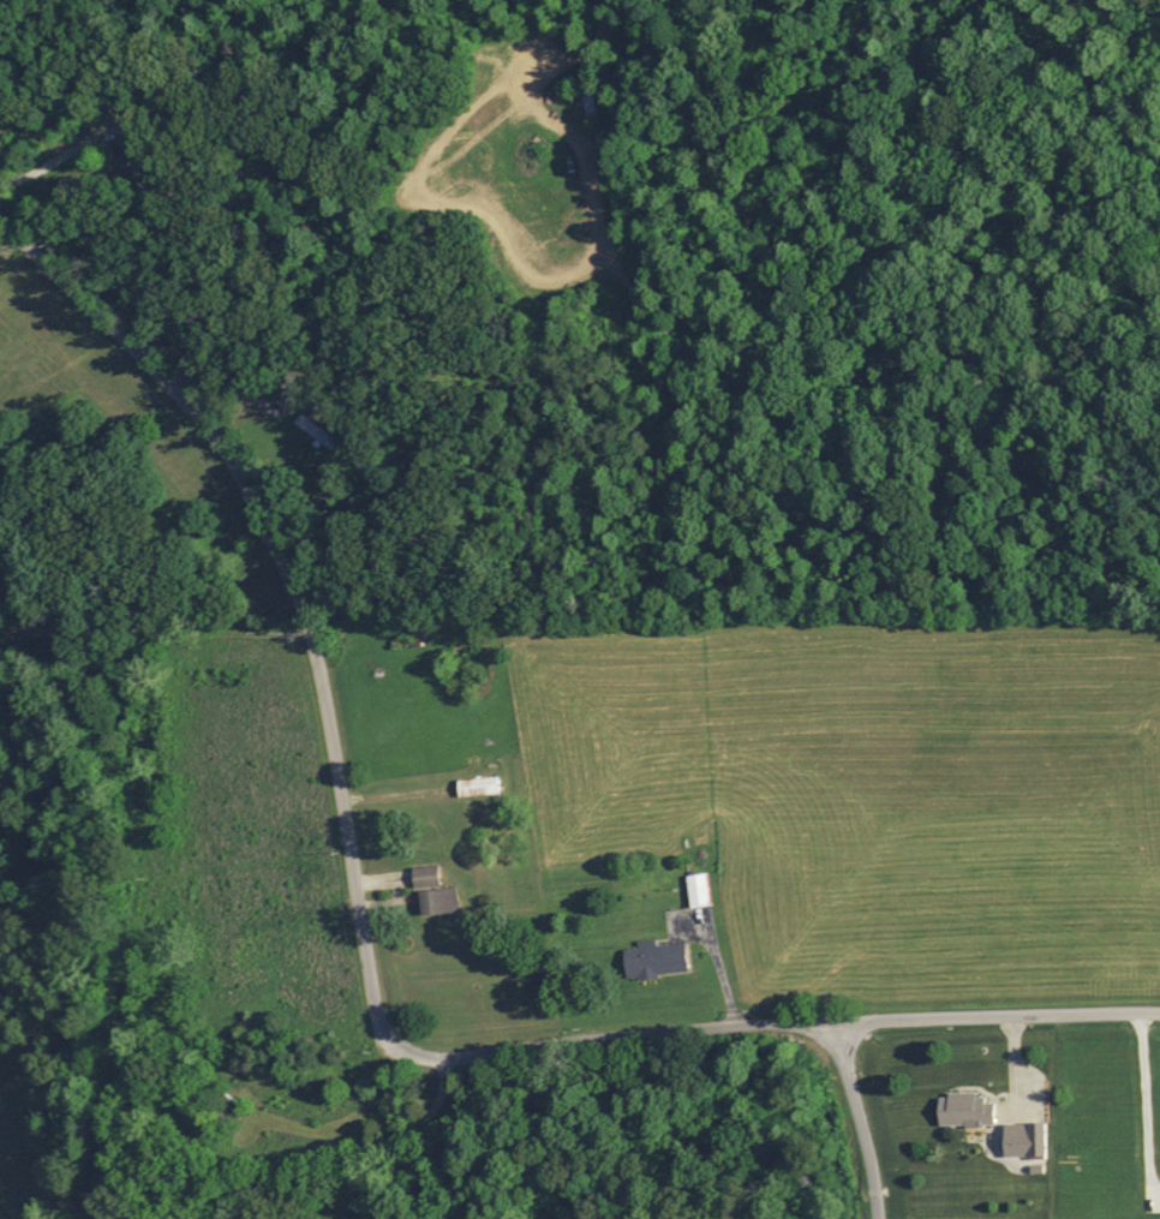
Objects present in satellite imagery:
building: (587, 94)
building: (311, 430)
road: (307, 623)
building: (474, 785)
building: (694, 889)
building: (431, 891)
building: (651, 958)
road: (820, 1021)
building: (219, 1109)
building: (961, 1109)
road: (856, 1118)
road: (426, 1135)
building: (1021, 1140)

